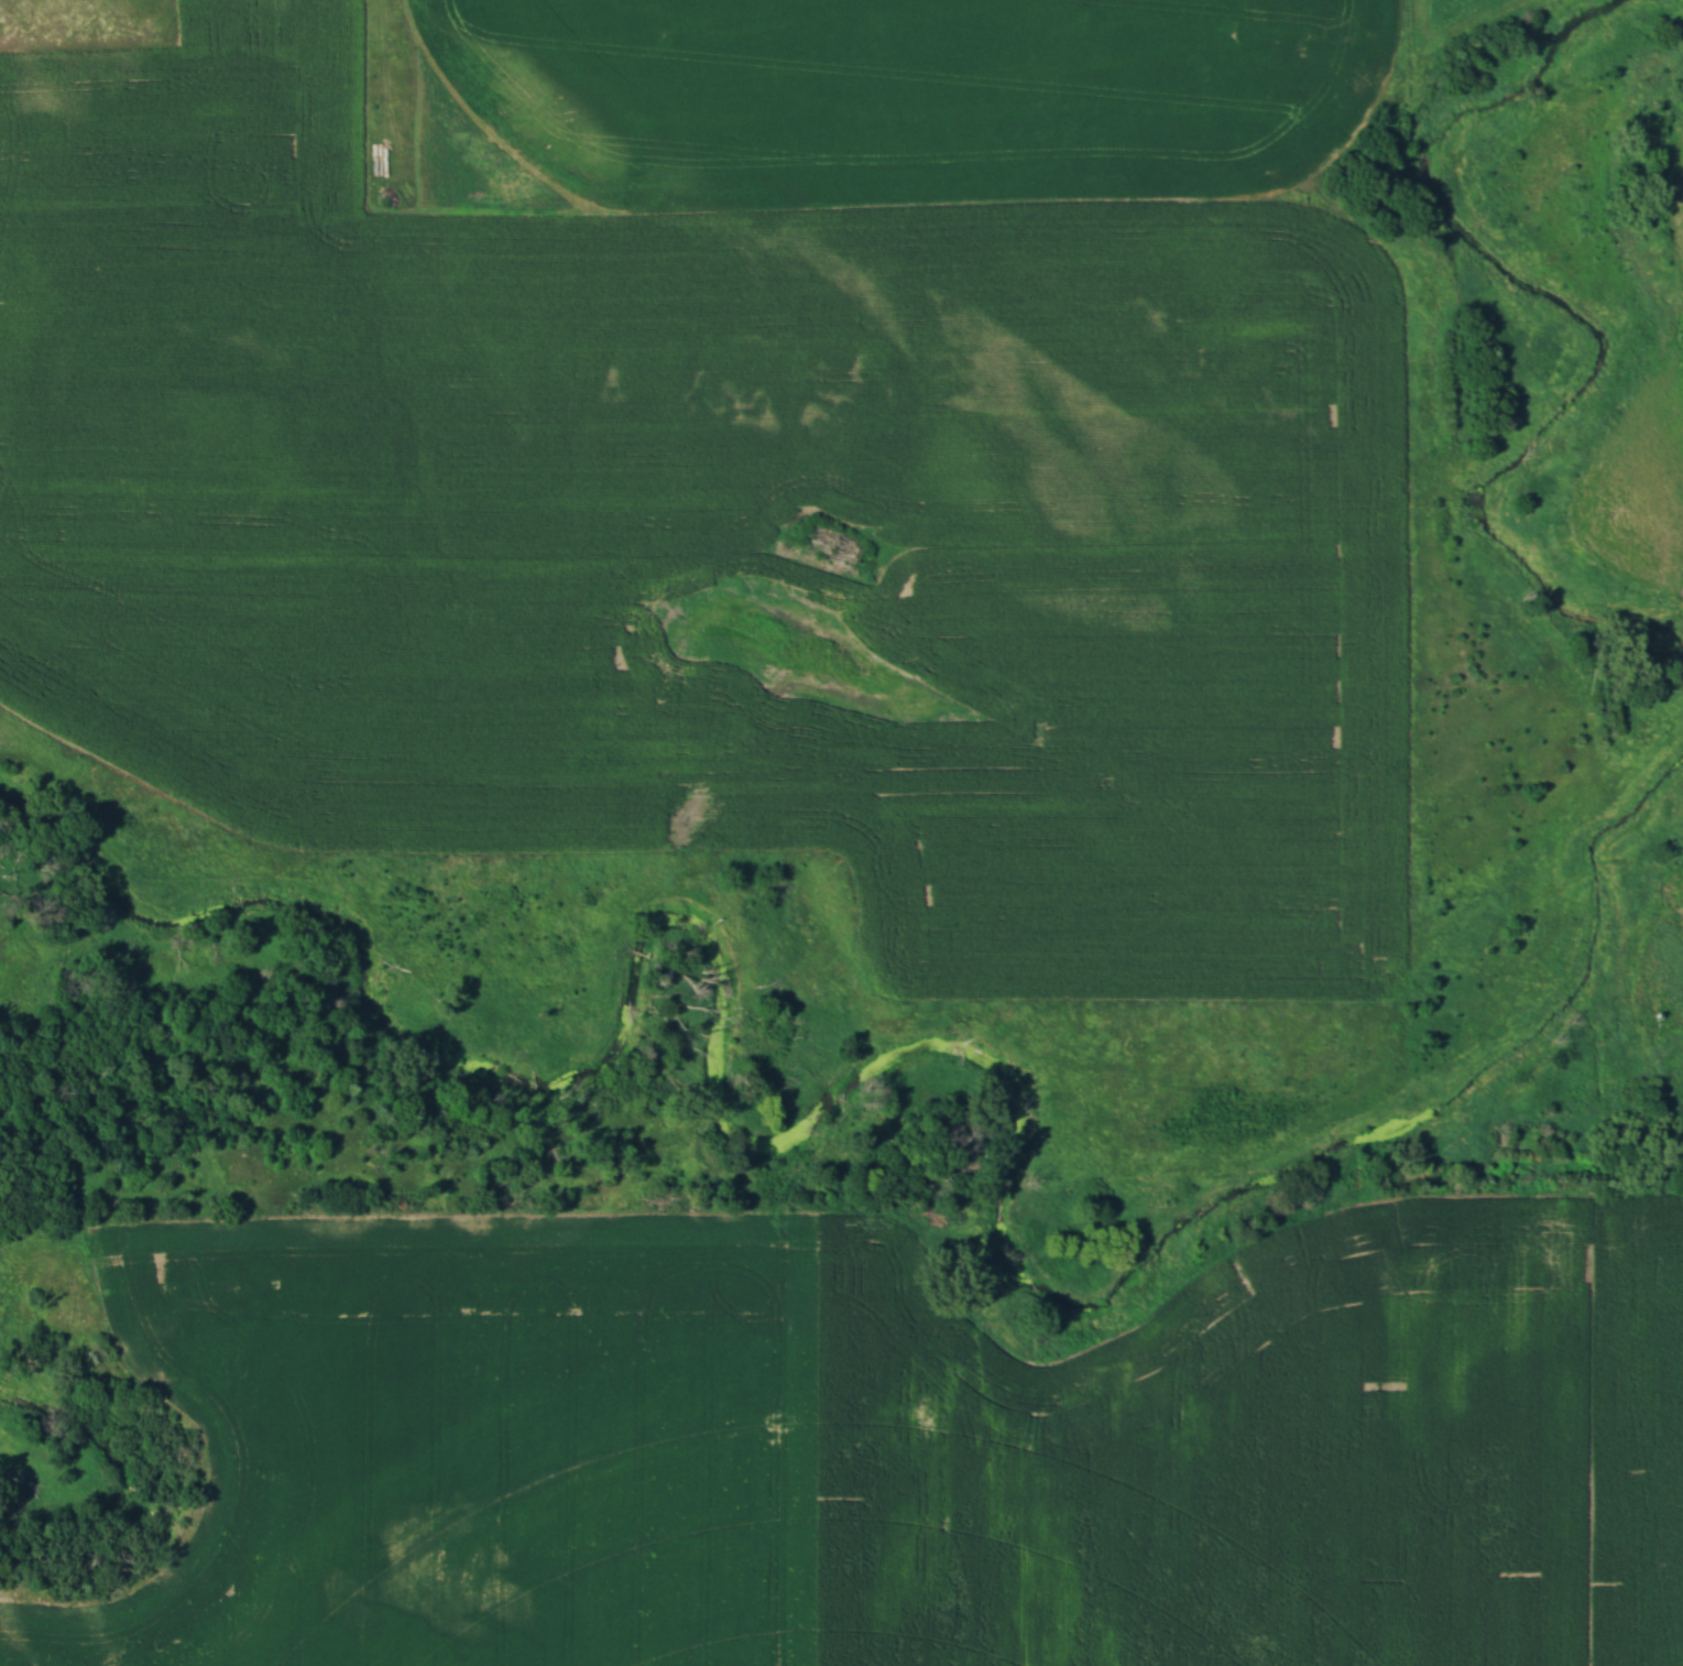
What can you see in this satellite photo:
river: (1589, 323)
river: (841, 1093)
river: (154, 1490)

